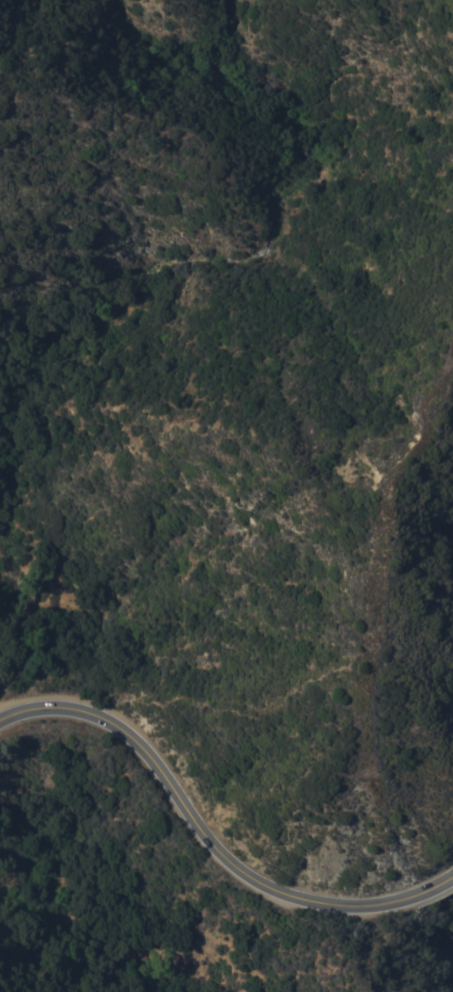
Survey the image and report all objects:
road: (210, 838)

